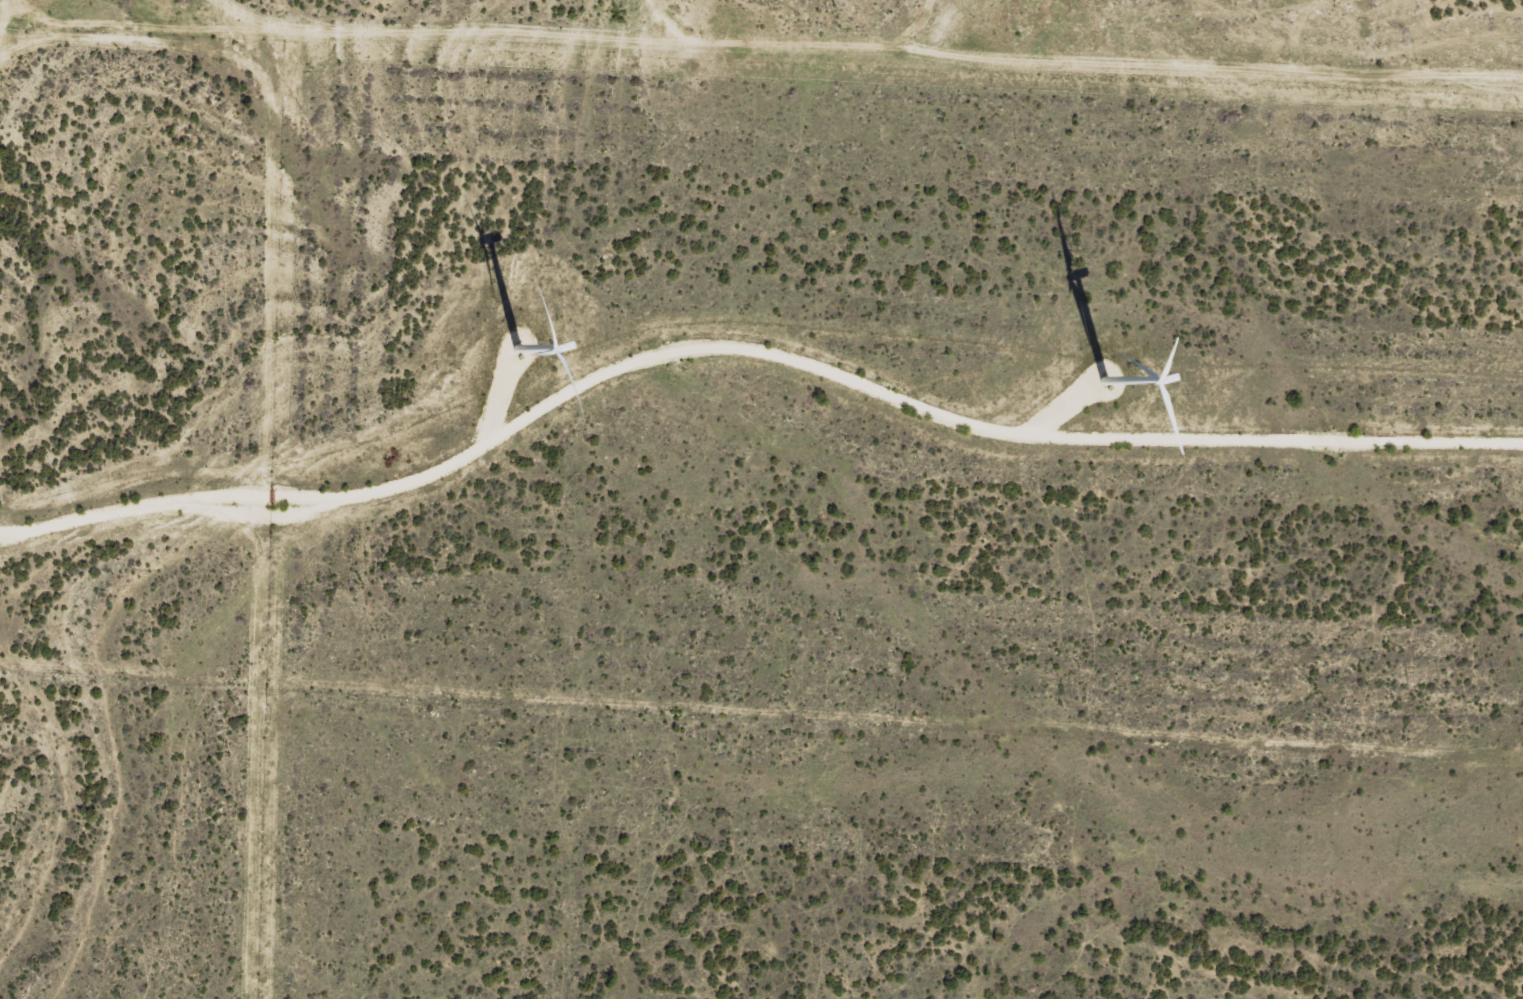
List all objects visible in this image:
road: (19, 62)
road: (868, 70)
wind turbine: (511, 348)
road: (749, 349)
wind turbine: (1114, 375)

